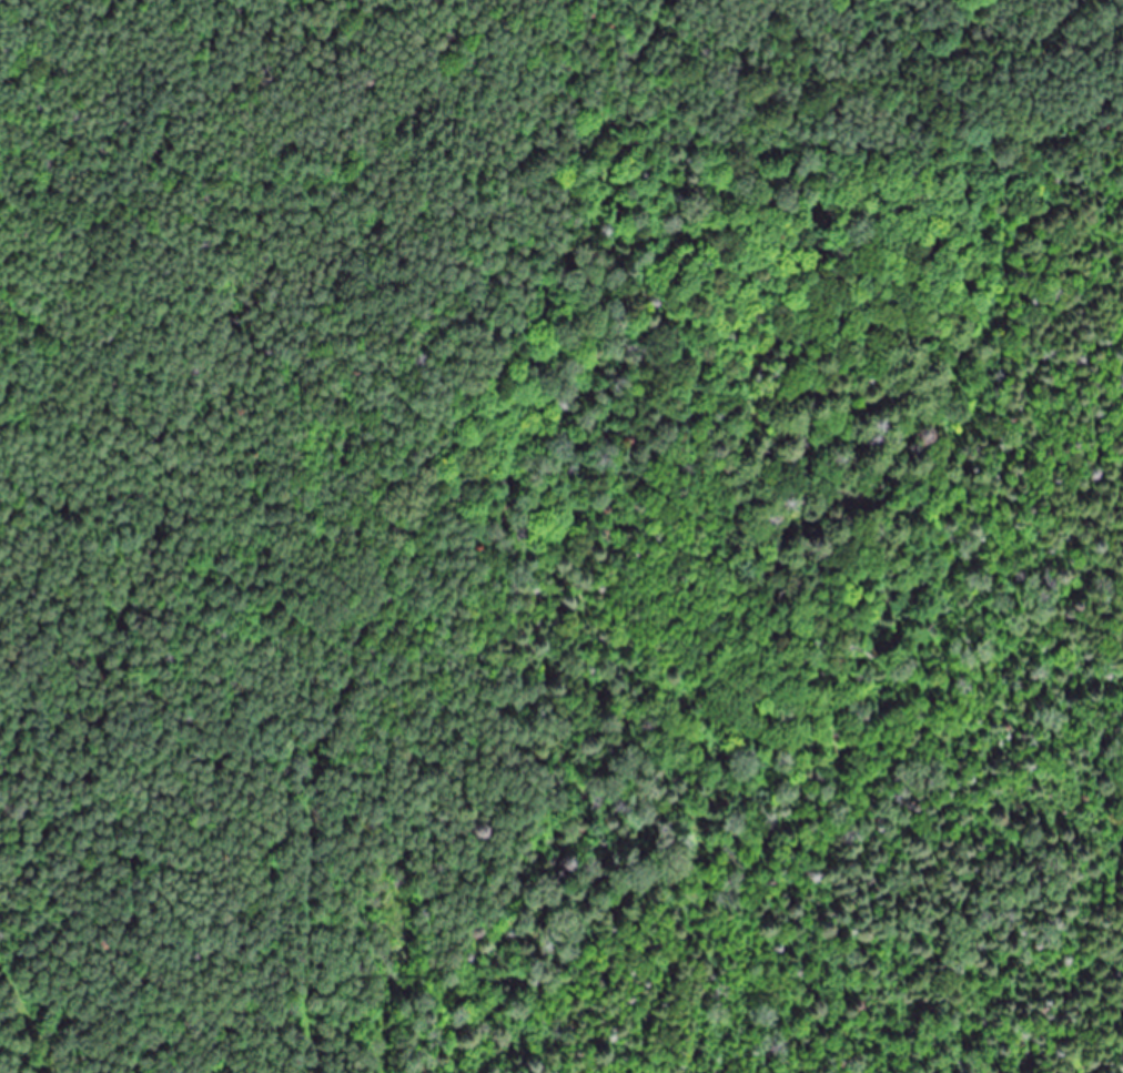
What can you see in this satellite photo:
road: (26, 1025)

